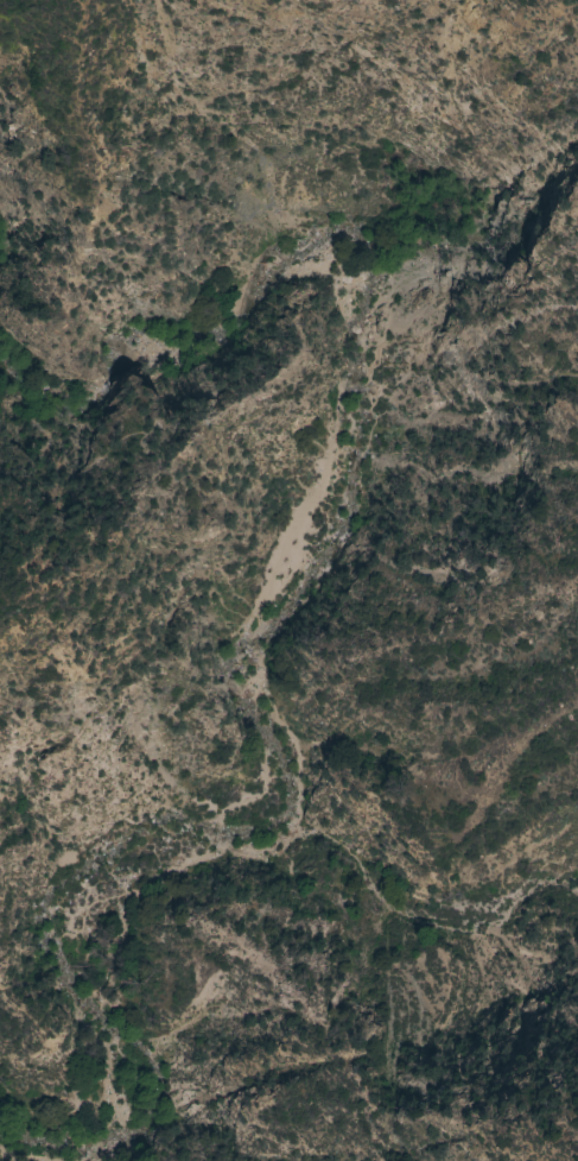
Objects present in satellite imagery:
road: (237, 689)

